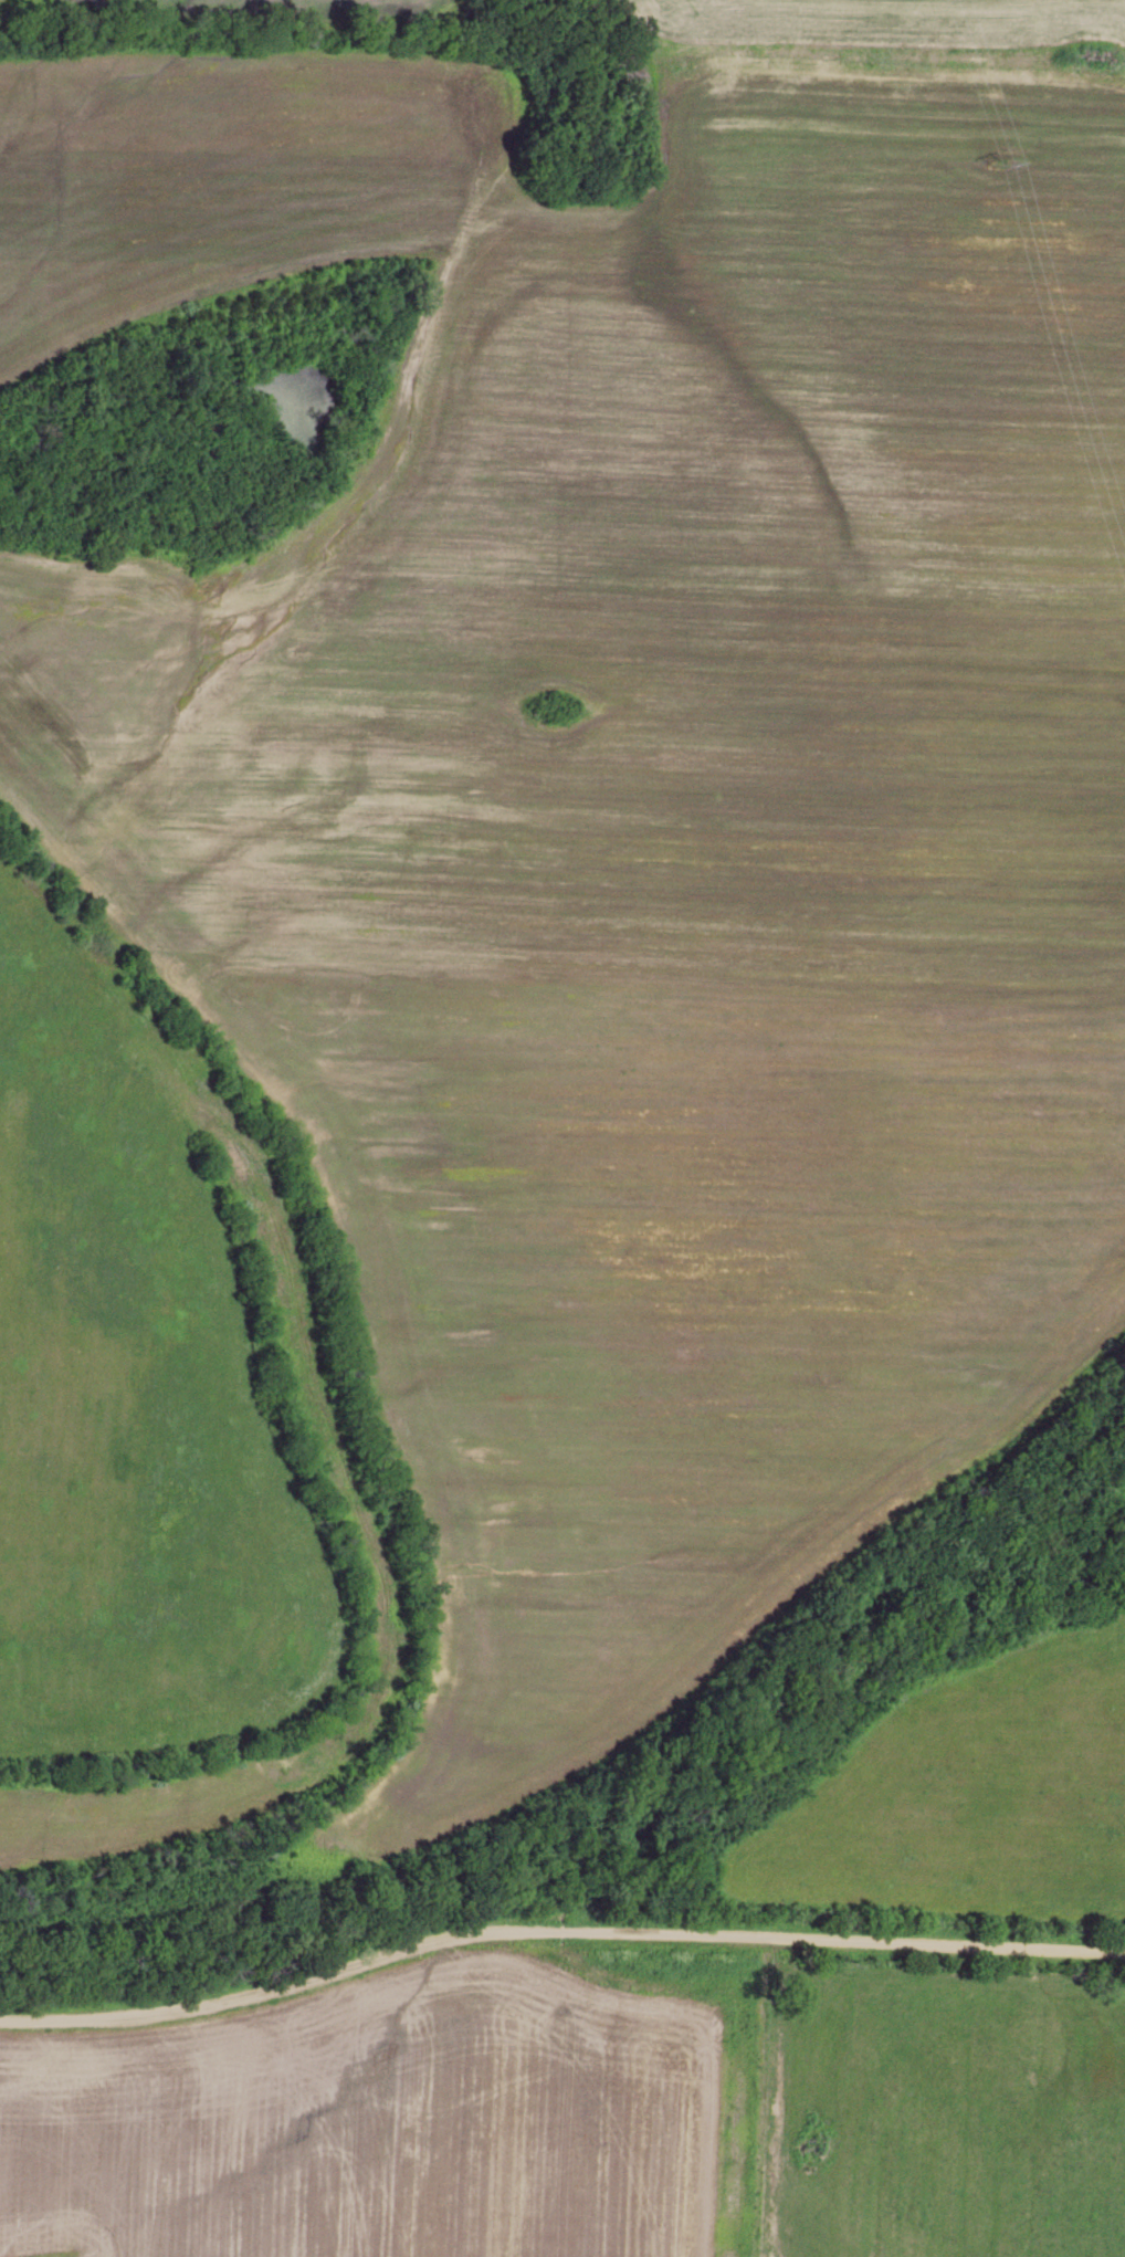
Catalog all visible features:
power tower: (997, 169)
road: (557, 1933)

